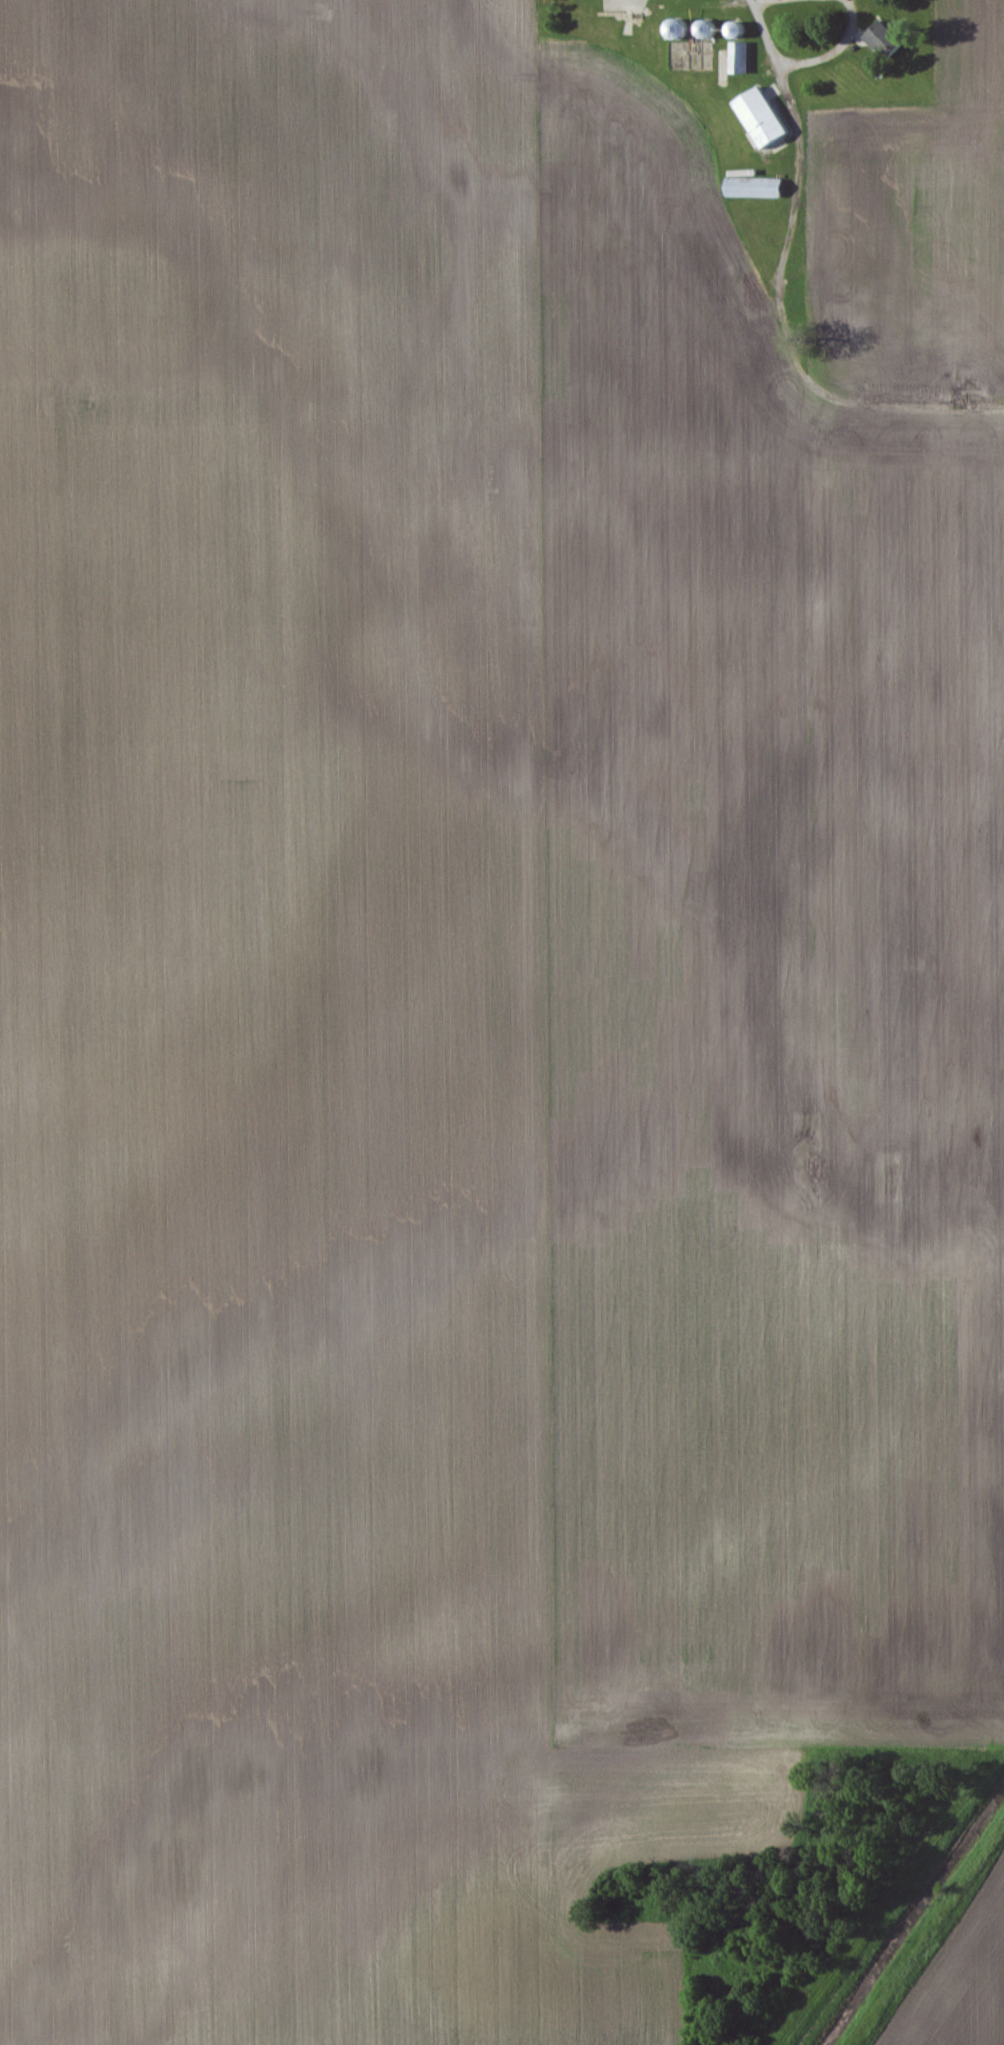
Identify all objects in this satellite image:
road: (773, 4)
road: (772, 44)
road: (839, 53)
building: (763, 117)
building: (736, 188)
building: (767, 189)

